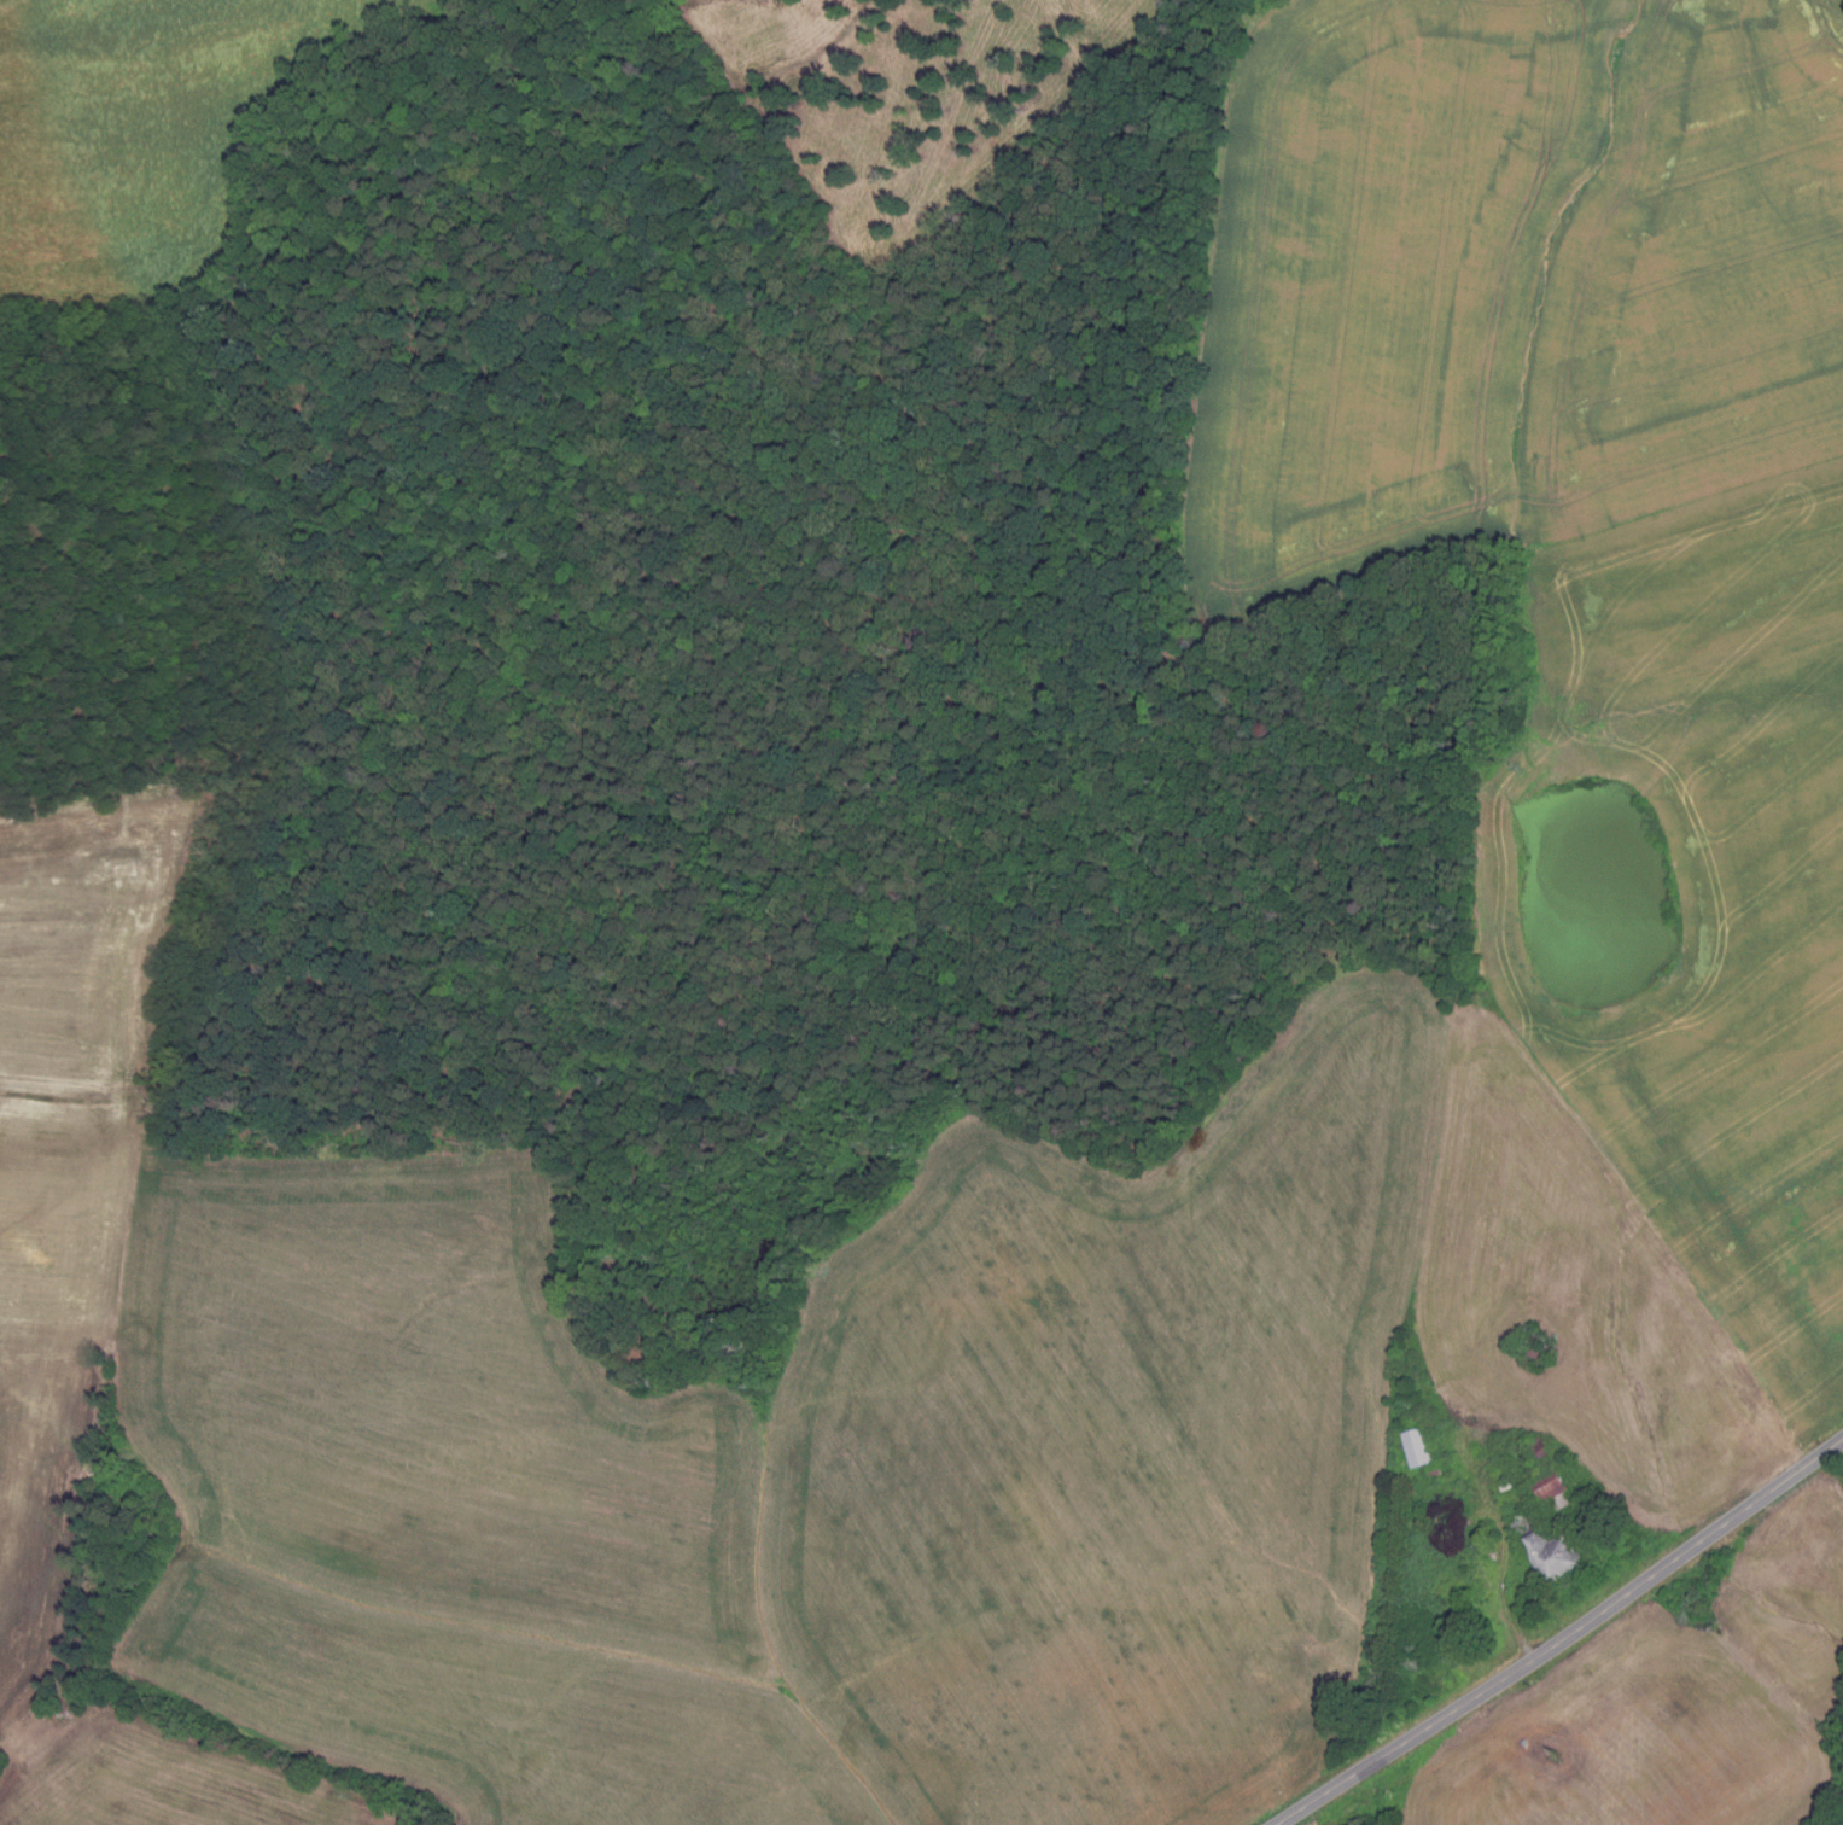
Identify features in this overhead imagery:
crop: (1582, 538)
building: (1538, 1346)
building: (1419, 1418)
building: (1417, 1446)
building: (1542, 1451)
building: (1437, 1469)
building: (1551, 1488)
building: (1547, 1546)
road: (1506, 1591)
road: (1563, 1638)

